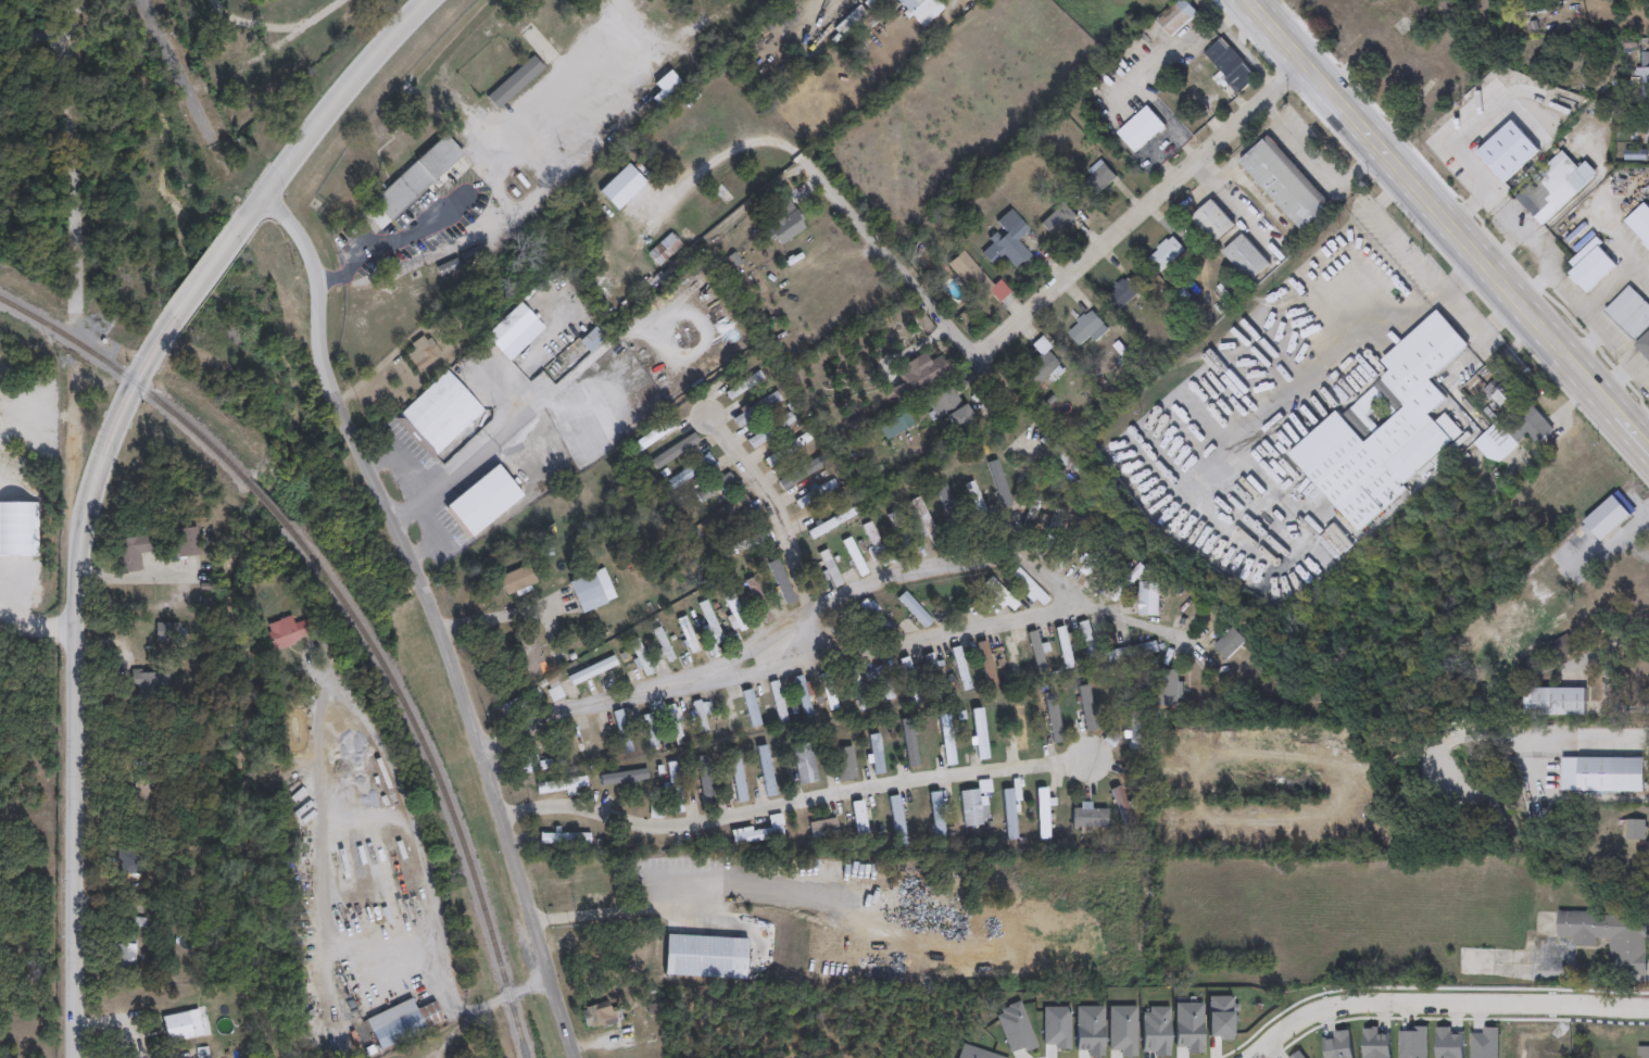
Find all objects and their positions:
building: (1175, 18)
road: (677, 38)
road: (34, 45)
building: (1229, 66)
road: (181, 76)
building: (1644, 77)
road: (1473, 123)
building: (1140, 130)
building: (1641, 133)
building: (1483, 144)
road: (72, 152)
road: (500, 168)
building: (1098, 180)
building: (1284, 184)
building: (1553, 188)
road: (847, 209)
road: (1137, 210)
road: (1505, 216)
building: (1058, 221)
building: (1211, 222)
road: (1447, 224)
building: (1639, 225)
building: (1008, 240)
road: (1501, 249)
building: (1166, 255)
building: (1244, 260)
building: (1590, 268)
road: (1422, 275)
building: (974, 279)
road: (1461, 279)
road: (1531, 289)
road: (1606, 289)
road: (1565, 293)
building: (1629, 314)
building: (1086, 329)
road: (1610, 340)
road: (1585, 345)
building: (1644, 347)
road: (1311, 365)
building: (1039, 367)
railway: (129, 376)
building: (919, 376)
building: (742, 386)
road: (541, 399)
building: (1384, 429)
building: (770, 430)
road: (1640, 432)
building: (1511, 436)
building: (786, 450)
road: (401, 463)
building: (800, 470)
road: (93, 477)
building: (714, 488)
building: (974, 497)
railway: (263, 501)
road: (773, 505)
building: (735, 508)
road: (403, 512)
building: (830, 524)
road: (1635, 524)
building: (1597, 526)
building: (899, 532)
road: (431, 536)
building: (1071, 540)
building: (743, 542)
road: (1612, 543)
building: (876, 544)
building: (854, 557)
road: (924, 565)
building: (829, 569)
road: (134, 578)
building: (1029, 588)
building: (590, 591)
building: (999, 595)
building: (1147, 600)
building: (757, 601)
building: (732, 607)
building: (914, 609)
building: (869, 613)
road: (432, 615)
road: (1125, 621)
building: (709, 622)
road: (33, 624)
building: (687, 634)
building: (1086, 640)
building: (664, 645)
building: (1229, 646)
building: (1063, 647)
road: (1603, 647)
building: (1039, 651)
building: (1134, 653)
building: (640, 658)
building: (987, 667)
building: (933, 675)
building: (911, 681)
building: (1167, 690)
building: (829, 691)
building: (857, 693)
building: (803, 697)
building: (778, 702)
building: (1553, 703)
landfill: (22, 708)
building: (1085, 708)
building: (726, 714)
building: (701, 716)
building: (1053, 717)
building: (674, 721)
building: (1020, 729)
building: (650, 730)
building: (621, 731)
road: (1515, 734)
building: (1110, 739)
building: (912, 746)
building: (876, 754)
building: (539, 763)
building: (803, 763)
building: (844, 764)
railway: (438, 776)
building: (557, 784)
road: (413, 786)
building: (674, 786)
road: (793, 803)
building: (973, 804)
building: (1123, 809)
building: (1043, 813)
building: (936, 814)
building: (1009, 814)
building: (1088, 817)
building: (896, 820)
building: (822, 828)
building: (1634, 830)
building: (759, 832)
building: (564, 837)
road: (323, 851)
road: (612, 906)
building: (1604, 939)
building: (710, 956)
building: (600, 960)
building: (1474, 962)
building: (641, 966)
road: (457, 972)
road: (1440, 1006)
building: (597, 1016)
road: (117, 1020)
building: (401, 1021)
building: (1642, 1053)
road: (167, 1057)

